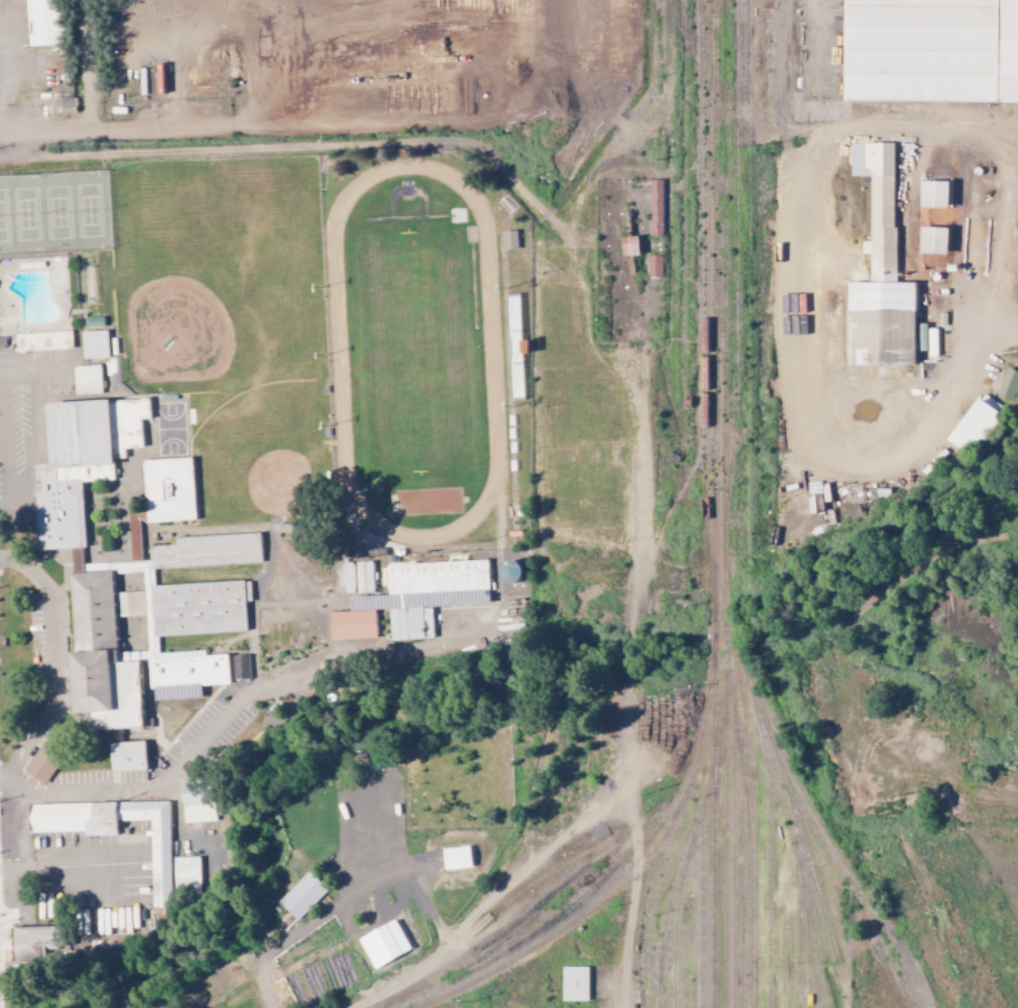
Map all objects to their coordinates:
building: (45, 22)
building: (931, 51)
road: (88, 66)
railway: (713, 96)
railway: (723, 96)
building: (63, 100)
road: (235, 129)
road: (288, 150)
building: (933, 194)
park: (56, 213)
building: (510, 239)
building: (934, 240)
building: (629, 246)
railway: (693, 252)
building: (654, 266)
railway: (701, 267)
park: (219, 270)
building: (880, 273)
railway: (718, 338)
building: (43, 341)
building: (94, 344)
railway: (722, 349)
track: (337, 352)
park: (413, 352)
track: (414, 352)
road: (33, 373)
building: (87, 380)
building: (1008, 384)
railway: (667, 402)
road: (882, 424)
building: (975, 425)
road: (32, 444)
road: (4, 447)
park: (259, 454)
building: (80, 464)
building: (168, 489)
railway: (722, 503)
building: (207, 551)
building: (510, 574)
building: (347, 577)
building: (426, 594)
railway: (712, 600)
building: (352, 625)
building: (93, 643)
road: (53, 667)
building: (240, 667)
railway: (743, 676)
railway: (718, 751)
building: (127, 757)
building: (41, 766)
road: (175, 772)
building: (197, 801)
railway: (747, 825)
building: (121, 836)
railway: (662, 839)
railway: (732, 849)
railway: (767, 851)
railway: (681, 866)
road: (70, 867)
railway: (613, 868)
railway: (740, 874)
building: (186, 875)
railway: (843, 880)
railway: (810, 881)
building: (302, 896)
railway: (698, 902)
railway: (535, 906)
railway: (806, 912)
railway: (564, 927)
railway: (795, 930)
railway: (671, 934)
railway: (804, 940)
building: (45, 943)
building: (585, 985)

